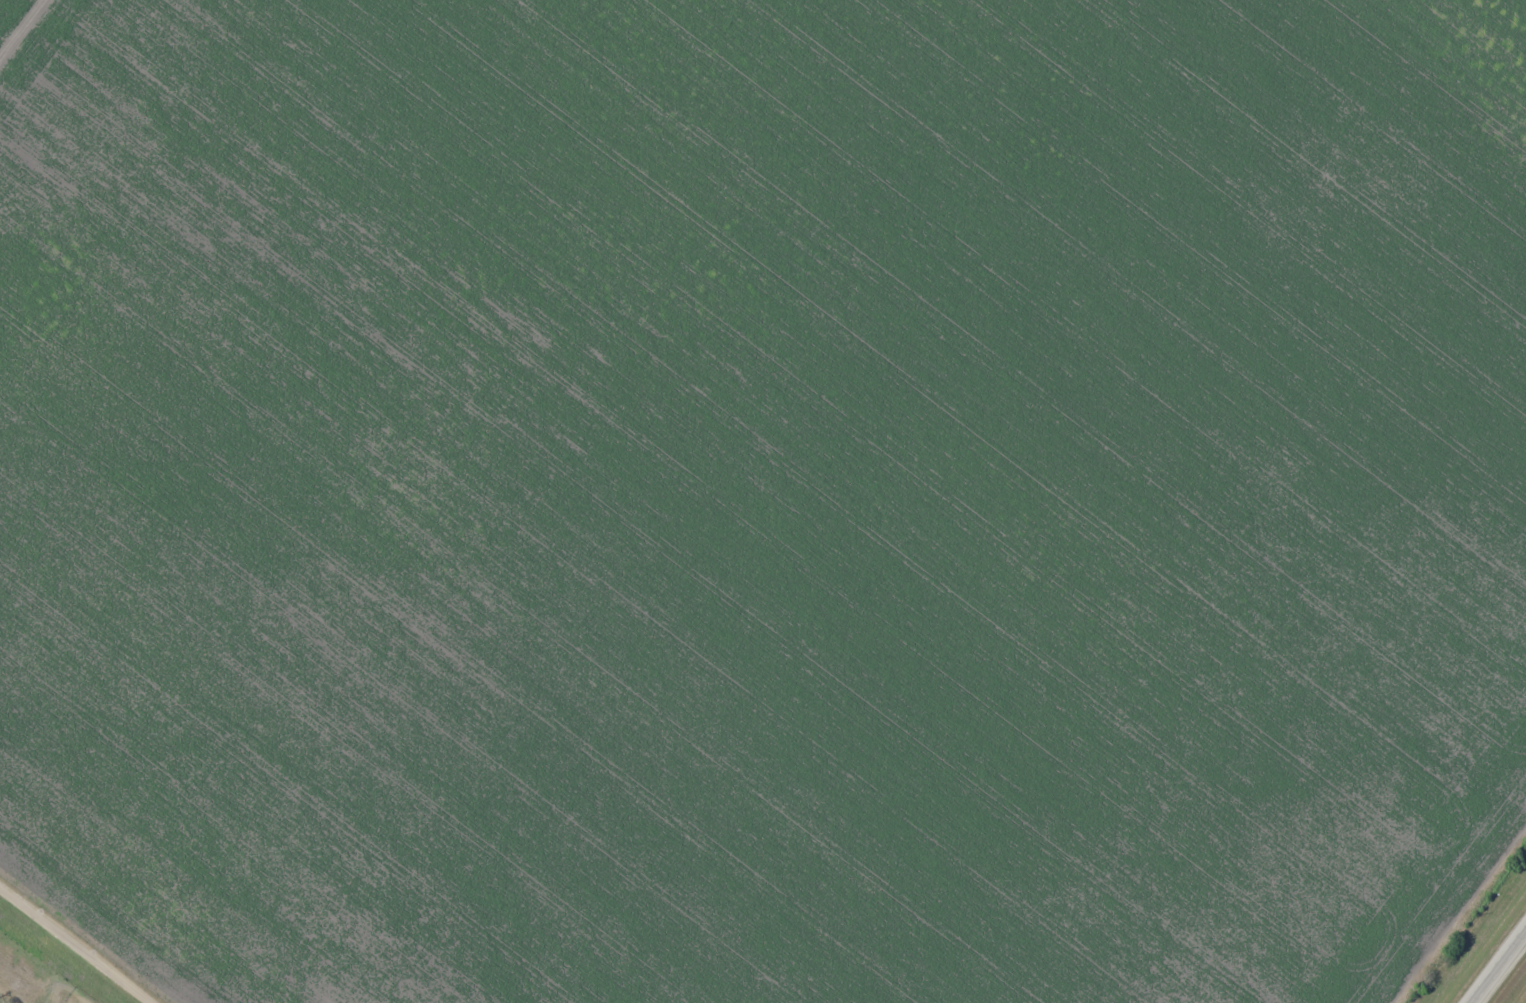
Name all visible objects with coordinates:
road: (69, 949)
road: (1497, 966)

